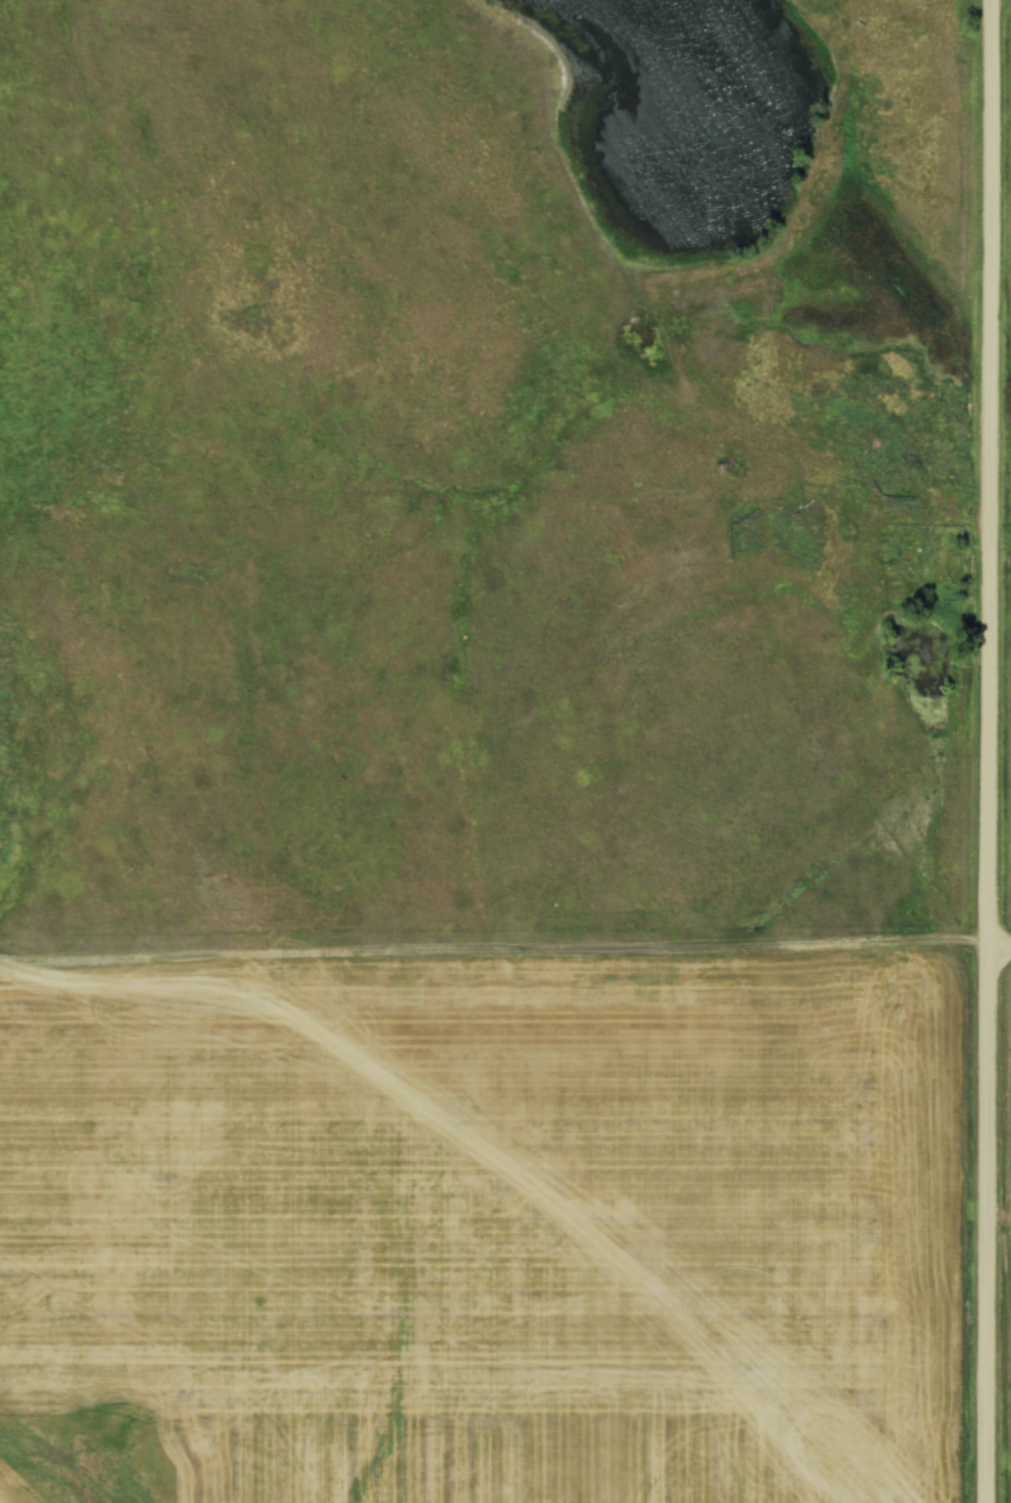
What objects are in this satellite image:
road: (988, 473)
road: (505, 953)
road: (984, 1225)

